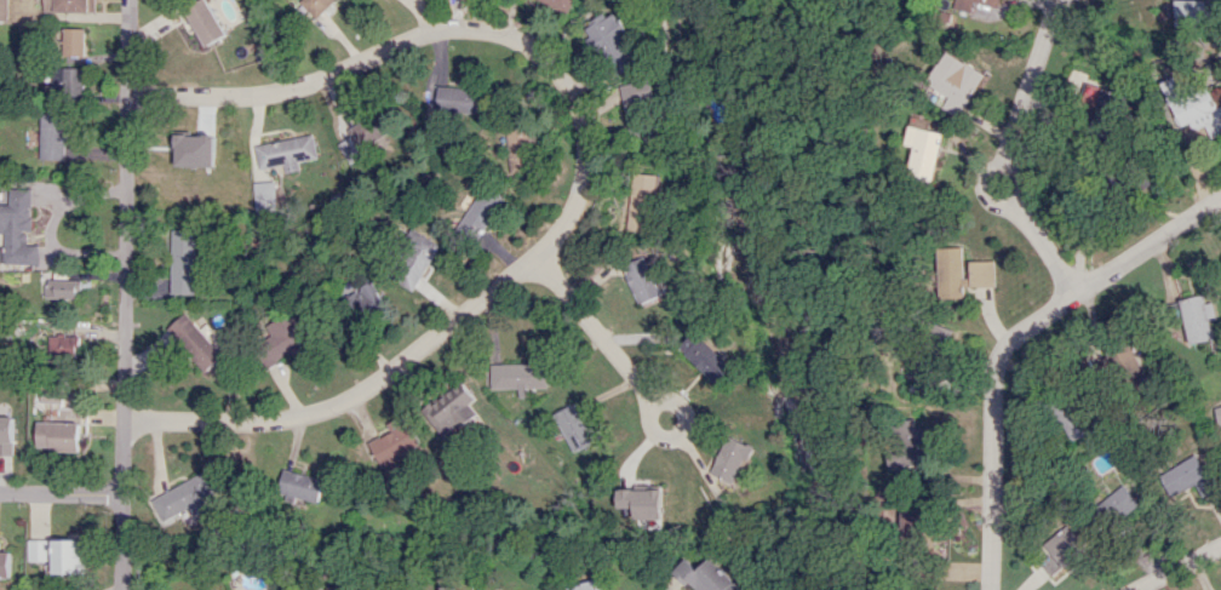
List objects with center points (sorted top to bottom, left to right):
building: (561, 4)
building: (963, 4)
building: (70, 5)
building: (4, 10)
building: (1190, 12)
building: (206, 21)
road: (447, 27)
building: (73, 41)
building: (612, 41)
building: (68, 81)
building: (956, 81)
building: (1099, 98)
building: (457, 99)
building: (640, 101)
building: (366, 132)
building: (52, 136)
building: (520, 147)
building: (924, 150)
road: (1005, 153)
building: (277, 165)
building: (193, 170)
road: (985, 187)
building: (235, 193)
building: (647, 201)
building: (483, 210)
building: (17, 229)
building: (183, 260)
building: (418, 260)
building: (963, 271)
building: (644, 280)
building: (62, 288)
road: (125, 294)
building: (367, 300)
building: (1198, 317)
building: (285, 336)
road: (1009, 338)
building: (195, 340)
road: (426, 342)
building: (61, 346)
building: (706, 356)
building: (522, 376)
road: (661, 401)
building: (455, 409)
building: (1219, 414)
building: (1071, 418)
building: (574, 425)
building: (6, 434)
building: (56, 435)
building: (396, 442)
building: (907, 443)
building: (732, 459)
building: (1187, 476)
building: (302, 485)
road: (61, 493)
building: (184, 497)
building: (637, 502)
building: (1119, 503)
building: (913, 517)
building: (36, 549)
building: (1061, 549)
building: (65, 556)
building: (4, 563)
road: (1175, 565)
building: (704, 575)
building: (583, 586)
building: (445, 588)

